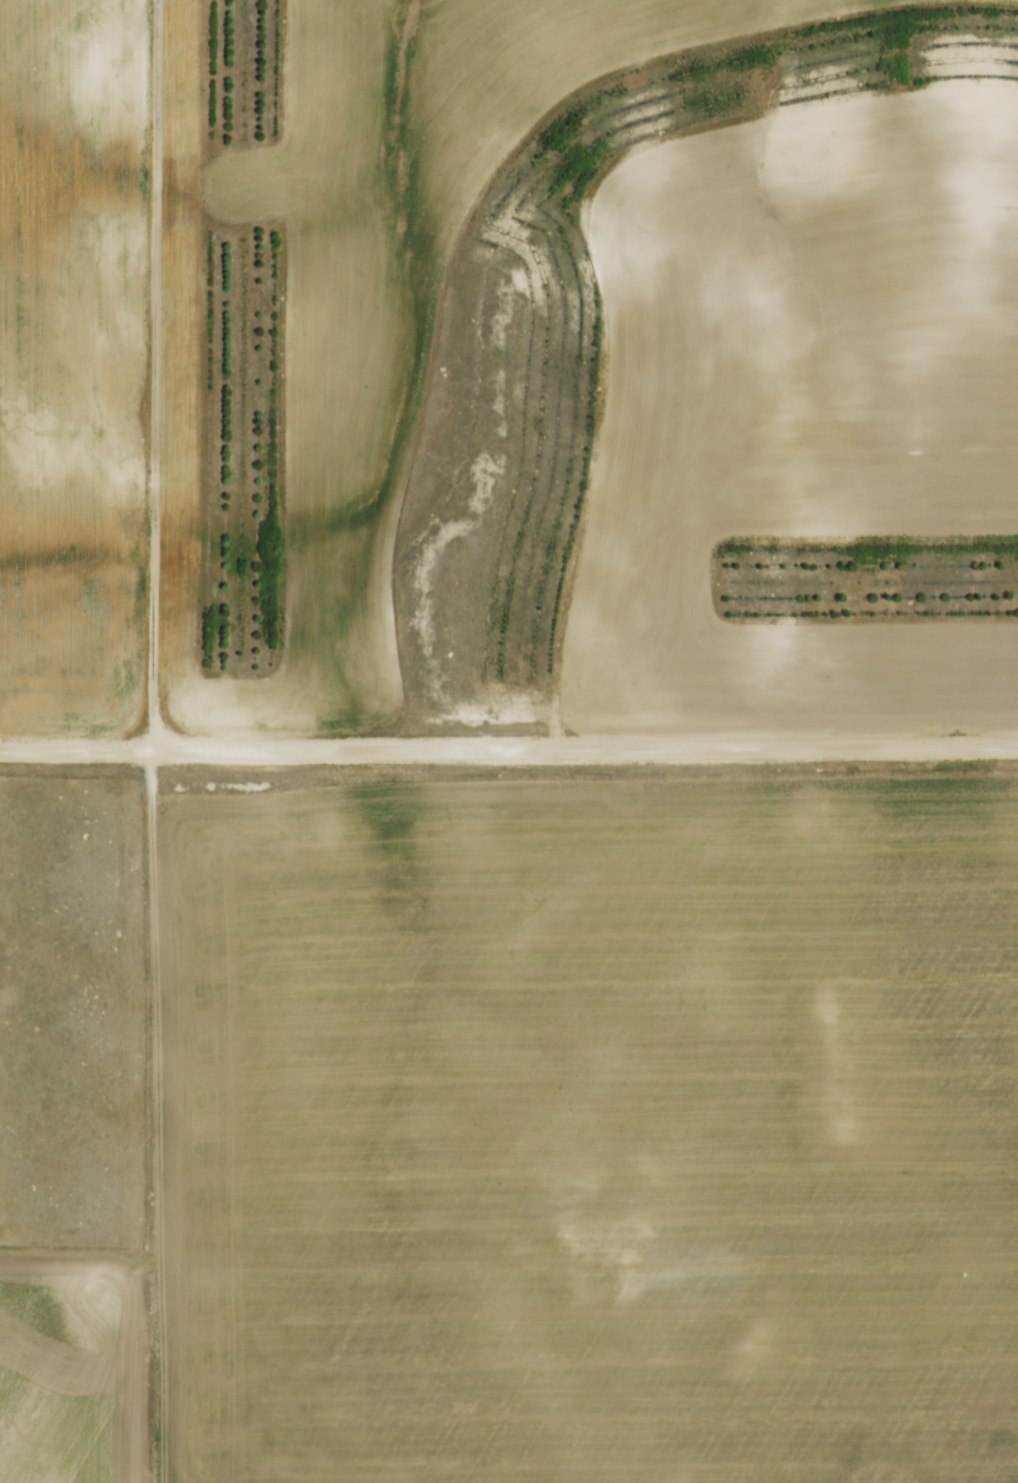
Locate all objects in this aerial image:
road: (162, 376)
road: (509, 753)

